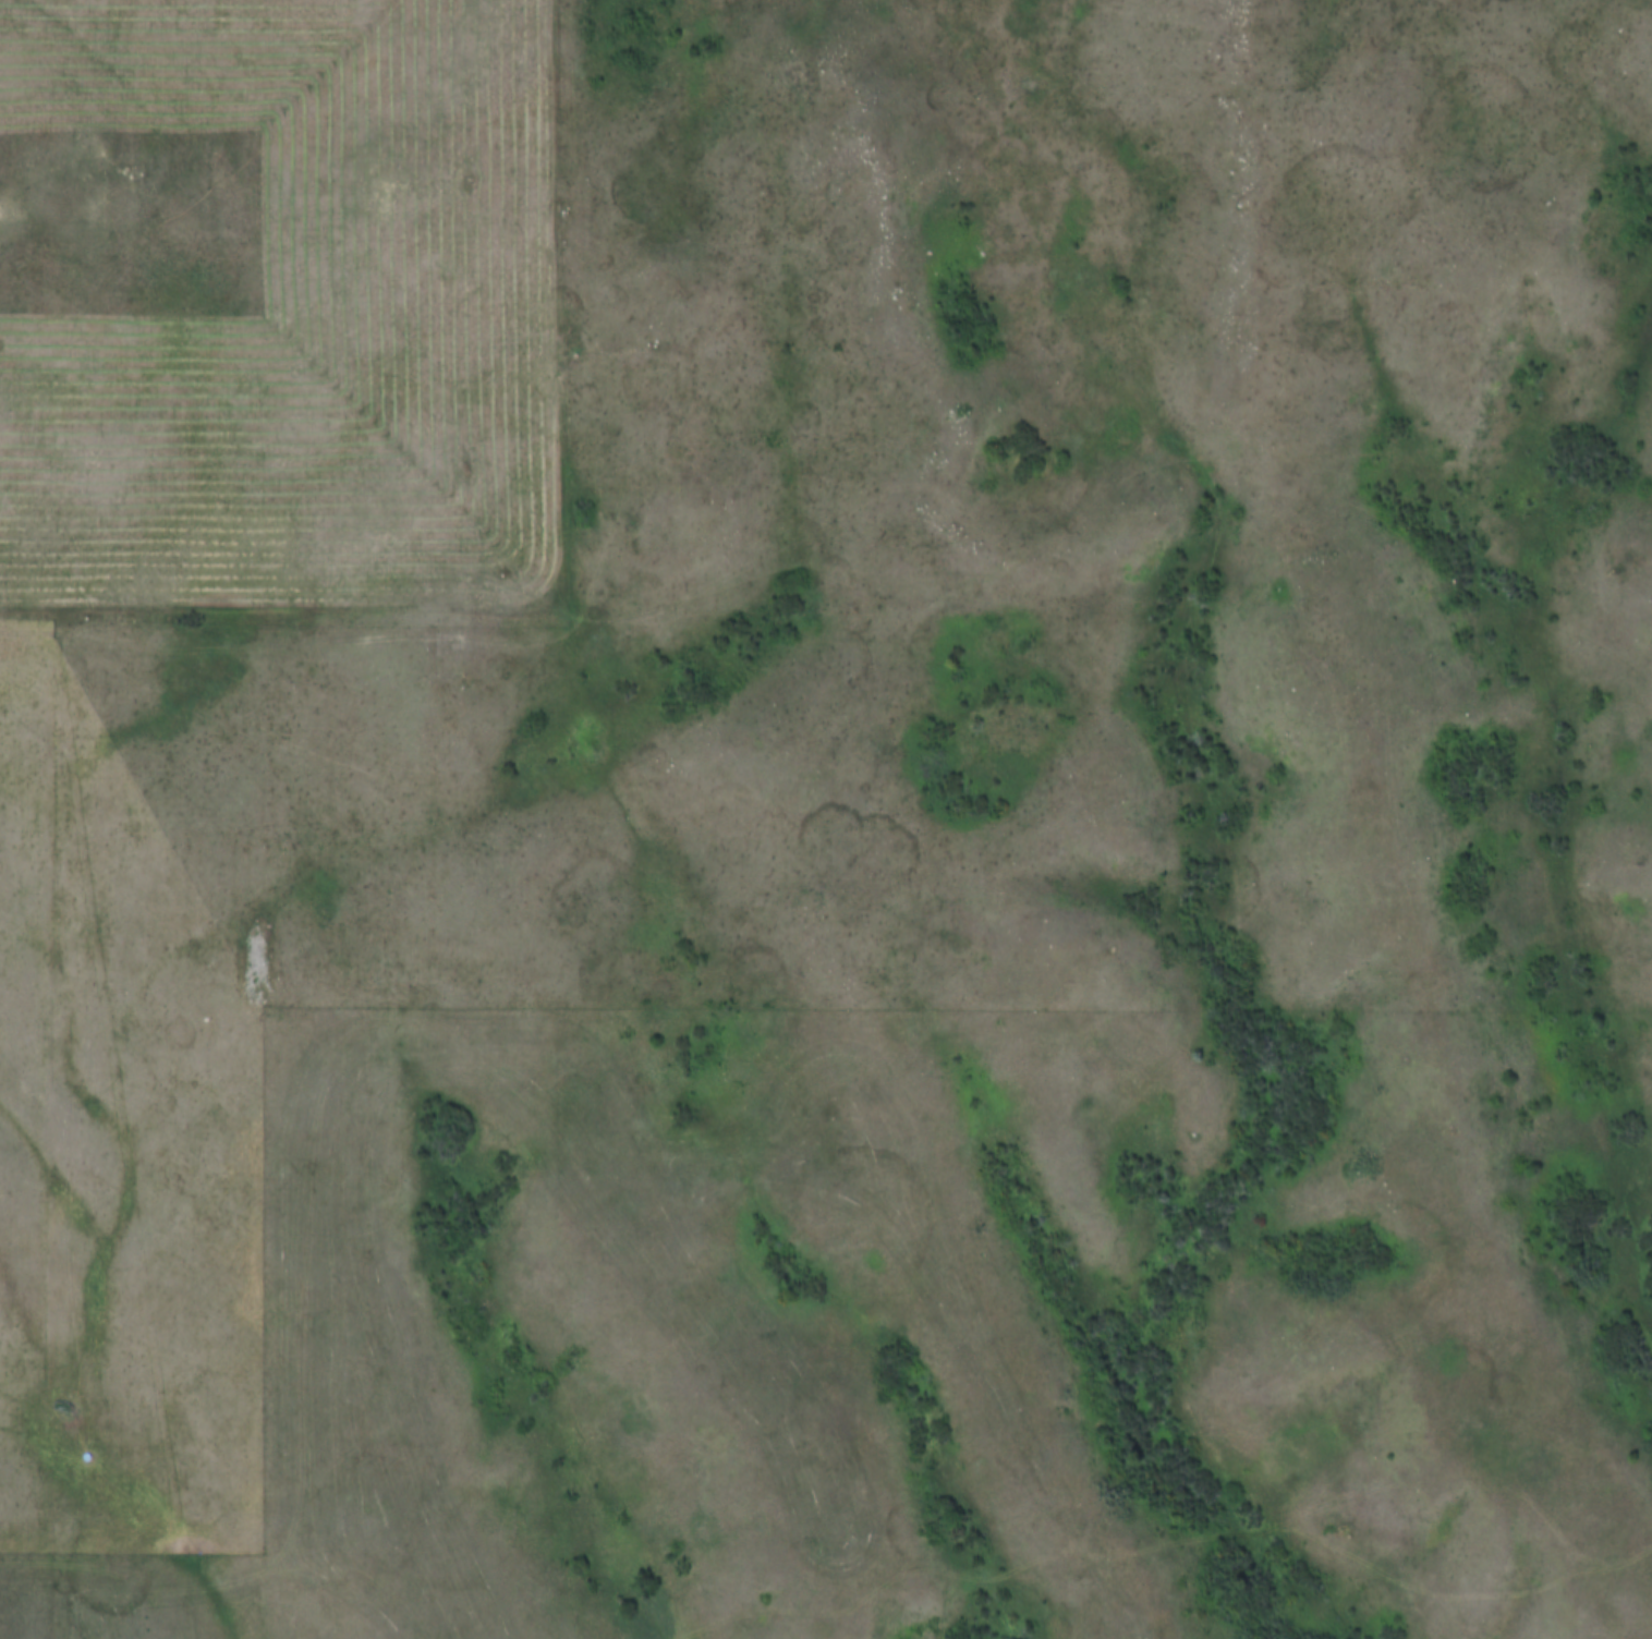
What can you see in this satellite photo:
road: (81, 971)

